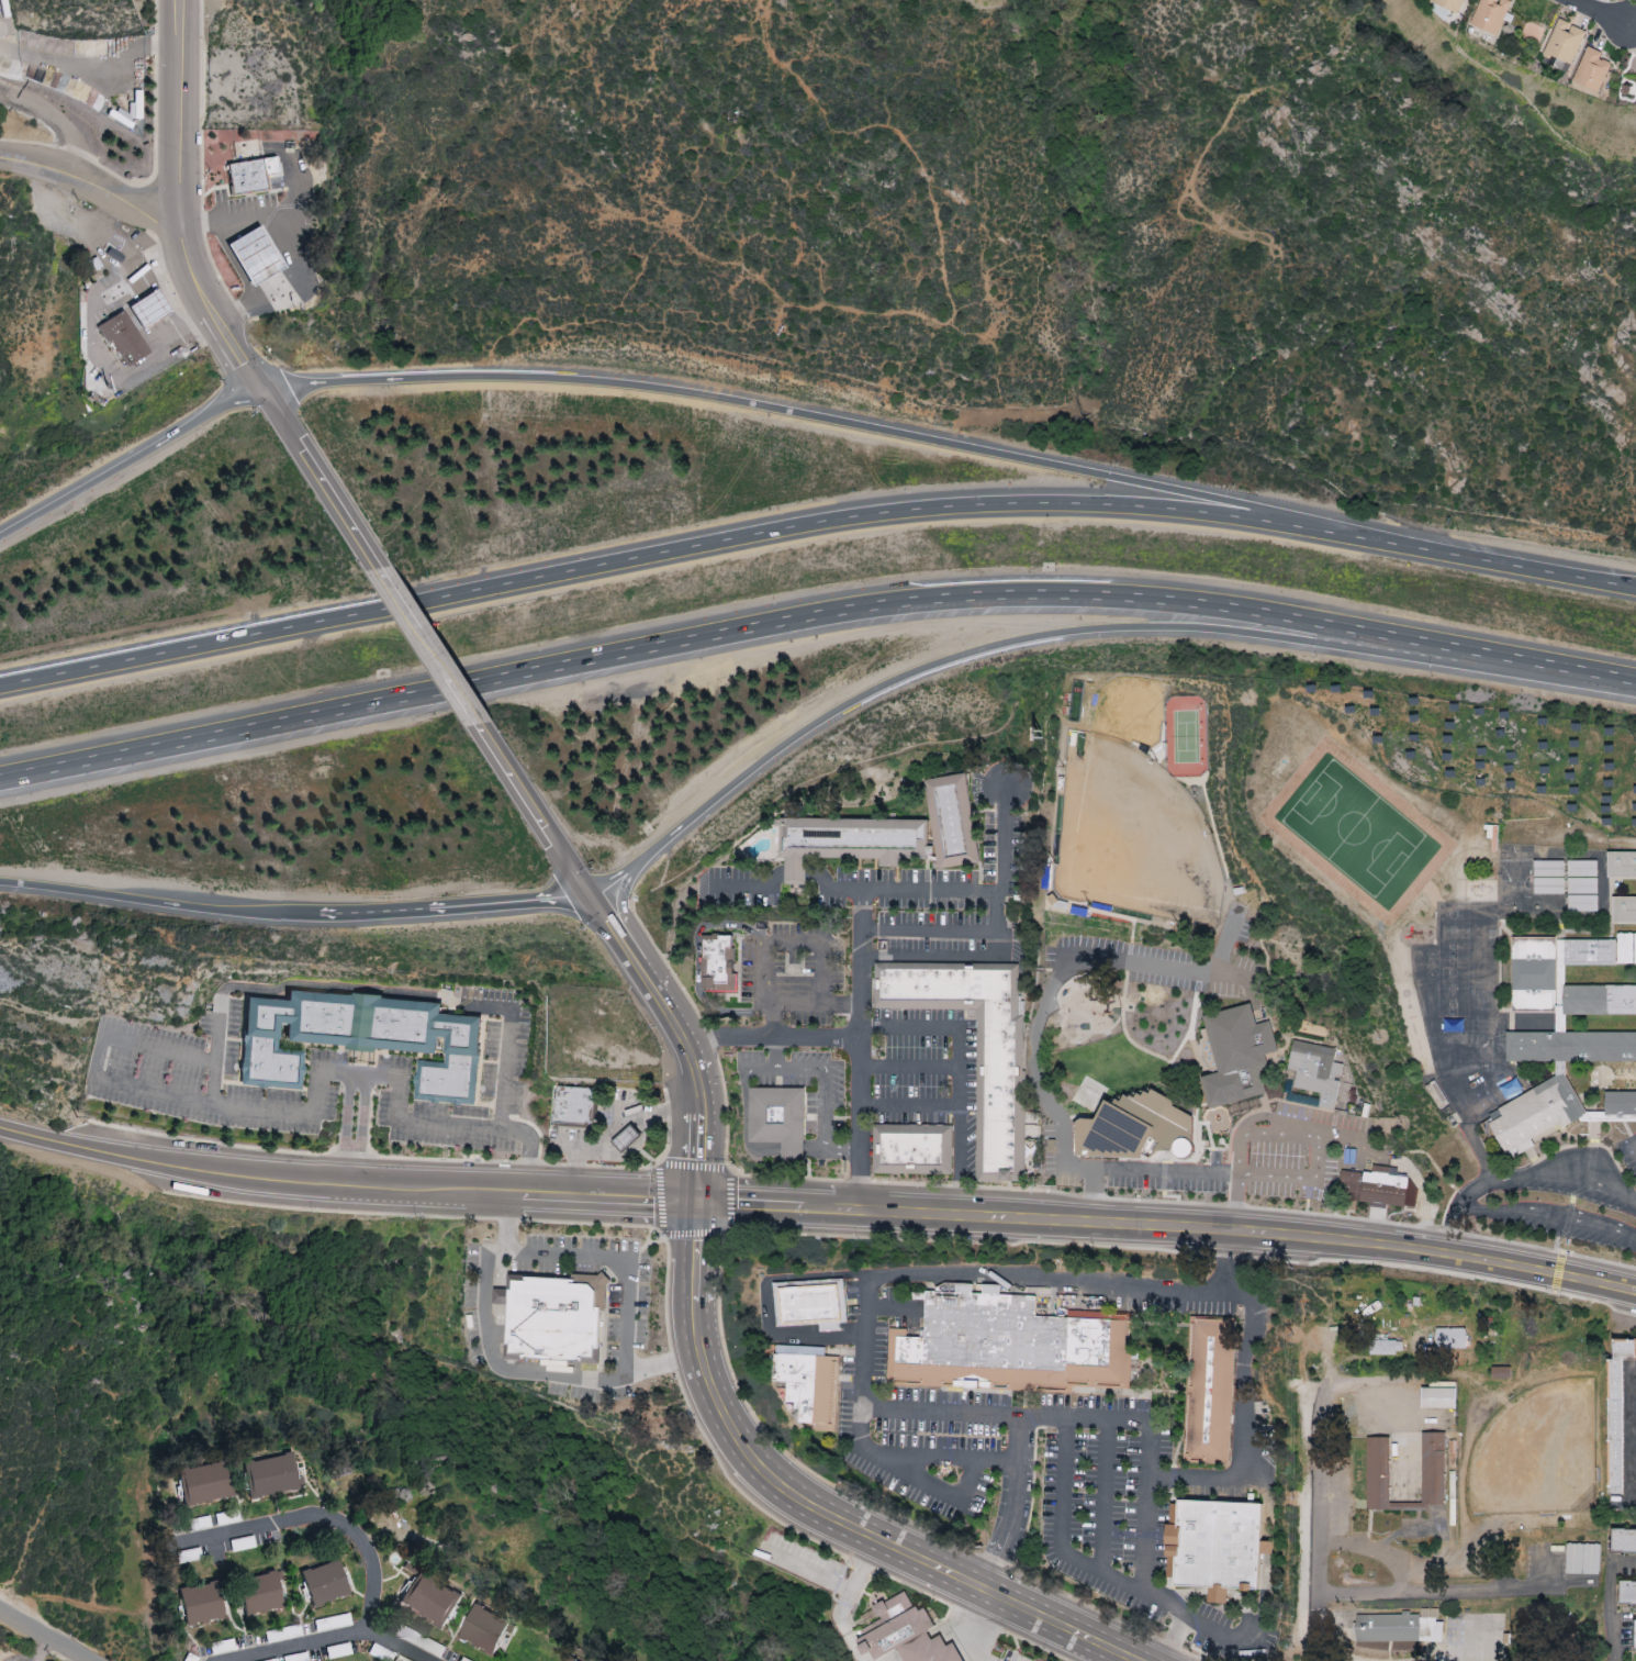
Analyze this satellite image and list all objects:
building: (1489, 14)
road: (1601, 14)
building: (1562, 45)
building: (1590, 70)
road: (102, 76)
road: (184, 114)
road: (61, 120)
road: (295, 171)
building: (247, 177)
road: (91, 186)
road: (237, 216)
building: (256, 256)
road: (142, 272)
road: (303, 276)
building: (152, 310)
gas station: (152, 310)
road: (214, 310)
road: (240, 314)
road: (205, 332)
building: (124, 337)
road: (117, 370)
traffic signals: (261, 387)
road: (850, 425)
road: (131, 462)
road: (320, 478)
road: (709, 544)
road: (1532, 572)
road: (814, 616)
road: (1019, 640)
road: (428, 647)
park: (1183, 738)
road: (535, 811)
building: (953, 823)
park: (1129, 840)
building: (848, 841)
road: (1007, 844)
building: (1621, 865)
building: (1547, 878)
building: (1580, 887)
road: (949, 891)
traffic signals: (592, 898)
road: (158, 905)
road: (455, 908)
building: (1623, 910)
road: (930, 929)
road: (793, 943)
building: (1625, 949)
road: (696, 962)
building: (719, 965)
building: (1536, 976)
road: (295, 985)
road: (1050, 988)
road: (794, 1004)
road: (505, 1036)
road: (680, 1038)
road: (769, 1038)
building: (361, 1040)
building: (1570, 1047)
road: (859, 1049)
building: (1234, 1056)
road: (908, 1066)
road: (959, 1071)
building: (1314, 1072)
road: (823, 1089)
building: (997, 1096)
road: (908, 1104)
building: (1620, 1104)
building: (575, 1105)
road: (281, 1113)
building: (1535, 1115)
building: (778, 1119)
road: (614, 1125)
road: (343, 1129)
road: (361, 1130)
building: (1135, 1130)
road: (747, 1133)
road: (32, 1137)
building: (627, 1140)
building: (911, 1152)
road: (1520, 1175)
road: (1199, 1177)
road: (379, 1186)
building: (1376, 1188)
traffic signals: (698, 1203)
road: (867, 1208)
road: (1549, 1216)
road: (506, 1222)
road: (1338, 1244)
road: (536, 1252)
road: (1127, 1285)
road: (773, 1303)
building: (816, 1305)
building: (554, 1320)
building: (1449, 1338)
building: (1011, 1344)
building: (1385, 1347)
building: (1500, 1372)
building: (813, 1390)
building: (1209, 1391)
building: (1437, 1398)
building: (1616, 1411)
road: (1132, 1424)
road: (1627, 1435)
road: (860, 1447)
road: (928, 1457)
building: (1377, 1473)
building: (268, 1474)
building: (201, 1482)
road: (1105, 1497)
road: (1320, 1501)
road: (818, 1507)
road: (321, 1520)
road: (1060, 1531)
building: (1623, 1542)
building: (1217, 1546)
road: (1372, 1551)
building: (1581, 1559)
building: (323, 1582)
road: (1435, 1591)
building: (258, 1593)
building: (1627, 1593)
building: (429, 1598)
street lamp: (932, 1599)
road: (1610, 1599)
building: (199, 1603)
building: (1398, 1627)
building: (482, 1629)
road: (1211, 1629)
building: (904, 1634)
building: (1634, 1634)
road: (44, 1636)
road: (335, 1640)
building: (1370, 1645)
road: (36, 1646)
building: (567, 1659)

